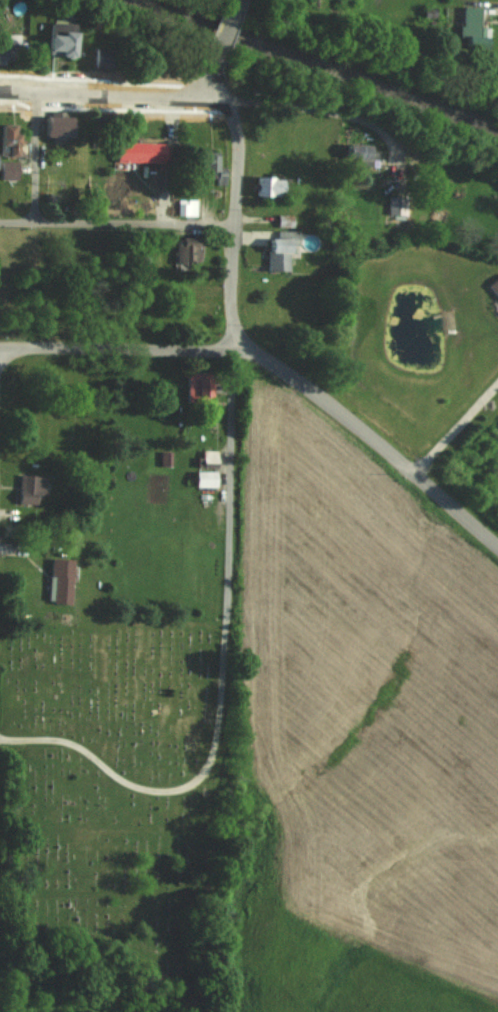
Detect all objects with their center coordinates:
building: (472, 28)
road: (221, 33)
building: (60, 40)
building: (2, 57)
building: (106, 58)
railway: (324, 61)
road: (203, 82)
road: (95, 94)
road: (333, 112)
building: (55, 128)
building: (9, 141)
building: (139, 153)
building: (358, 156)
road: (36, 157)
building: (206, 166)
building: (266, 188)
road: (237, 205)
building: (396, 206)
building: (185, 209)
building: (283, 222)
road: (118, 225)
building: (185, 251)
building: (279, 251)
building: (494, 287)
road: (119, 350)
building: (198, 388)
road: (455, 426)
road: (372, 438)
building: (212, 457)
building: (205, 480)
building: (30, 489)
building: (62, 582)
road: (223, 672)
park: (119, 807)

